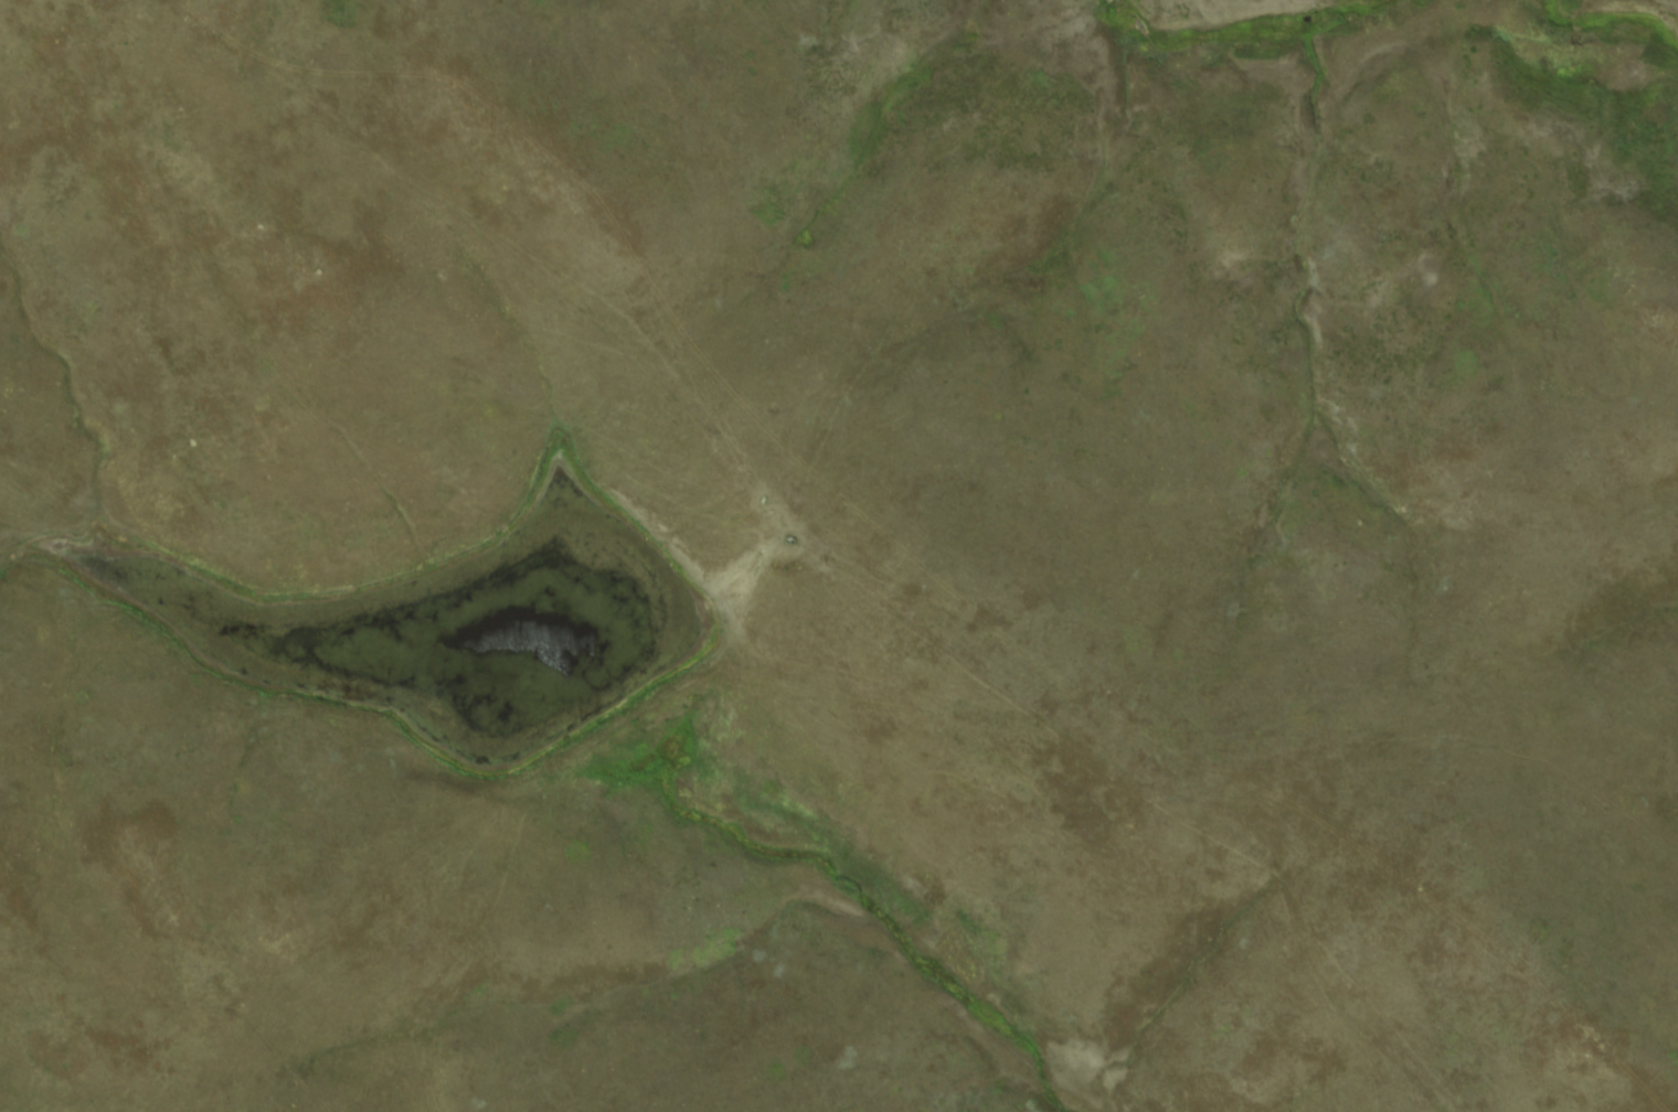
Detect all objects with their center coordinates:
road: (868, 507)

